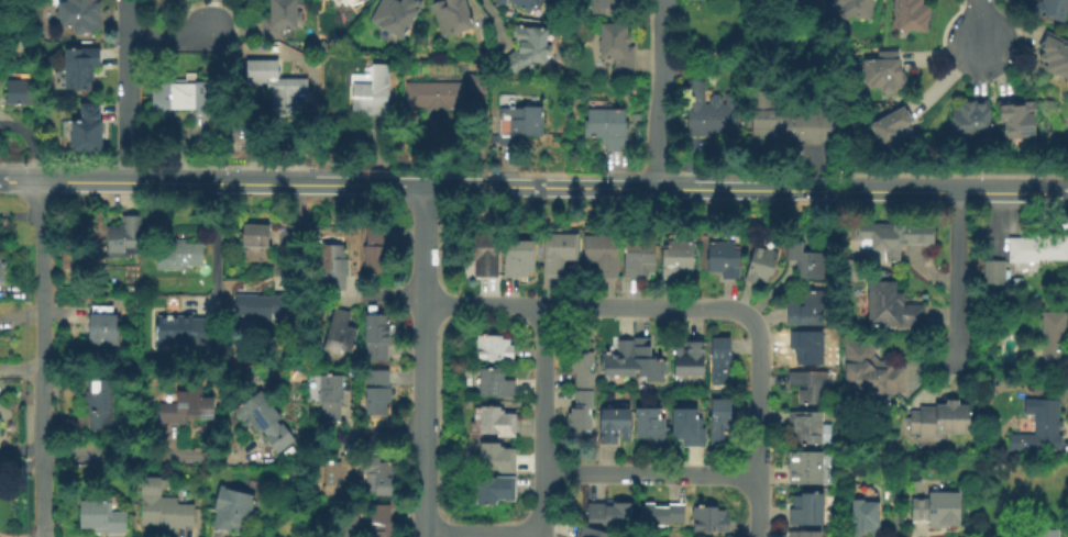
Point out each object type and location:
building: (527, 3)
building: (608, 7)
building: (852, 7)
building: (1054, 8)
building: (82, 14)
building: (397, 14)
building: (913, 15)
building: (283, 18)
building: (447, 21)
road: (483, 22)
road: (980, 24)
road: (170, 38)
building: (619, 47)
building: (529, 49)
building: (1056, 56)
building: (82, 65)
building: (482, 67)
building: (888, 71)
building: (478, 83)
building: (277, 86)
building: (21, 90)
road: (123, 90)
building: (367, 92)
building: (438, 93)
road: (661, 94)
building: (185, 97)
building: (711, 111)
building: (973, 119)
building: (1022, 119)
building: (789, 121)
building: (519, 124)
building: (608, 126)
building: (90, 128)
building: (896, 128)
building: (878, 130)
building: (638, 138)
road: (419, 184)
road: (954, 189)
building: (254, 234)
building: (892, 235)
building: (124, 236)
building: (1037, 247)
building: (561, 249)
building: (377, 250)
building: (484, 253)
building: (604, 253)
road: (212, 255)
building: (179, 256)
building: (642, 256)
building: (521, 257)
building: (680, 257)
building: (726, 258)
building: (808, 258)
building: (764, 265)
building: (337, 266)
building: (0, 272)
building: (995, 272)
road: (954, 275)
building: (1016, 281)
road: (394, 299)
building: (261, 305)
building: (891, 306)
road: (700, 307)
building: (808, 309)
building: (103, 326)
building: (183, 329)
building: (341, 336)
building: (379, 336)
building: (1049, 342)
building: (810, 346)
building: (496, 348)
road: (42, 358)
building: (693, 358)
building: (635, 359)
building: (722, 359)
road: (425, 361)
road: (21, 367)
building: (869, 370)
building: (498, 383)
building: (812, 385)
building: (379, 391)
building: (584, 391)
building: (333, 396)
building: (99, 402)
building: (186, 405)
building: (264, 419)
road: (546, 419)
building: (938, 419)
building: (499, 422)
building: (723, 422)
building: (1046, 423)
building: (618, 424)
building: (654, 424)
building: (691, 427)
building: (812, 427)
road: (394, 438)
building: (1021, 439)
road: (140, 455)
building: (499, 457)
road: (21, 460)
building: (807, 467)
building: (291, 470)
building: (340, 473)
road: (652, 474)
building: (382, 476)
building: (917, 485)
building: (497, 490)
building: (938, 507)
building: (163, 508)
building: (232, 508)
building: (810, 510)
building: (613, 513)
building: (665, 514)
building: (101, 516)
building: (862, 517)
building: (712, 519)
building: (385, 522)
building: (339, 526)
road: (483, 532)
building: (594, 532)
building: (1041, 533)
building: (807, 534)

